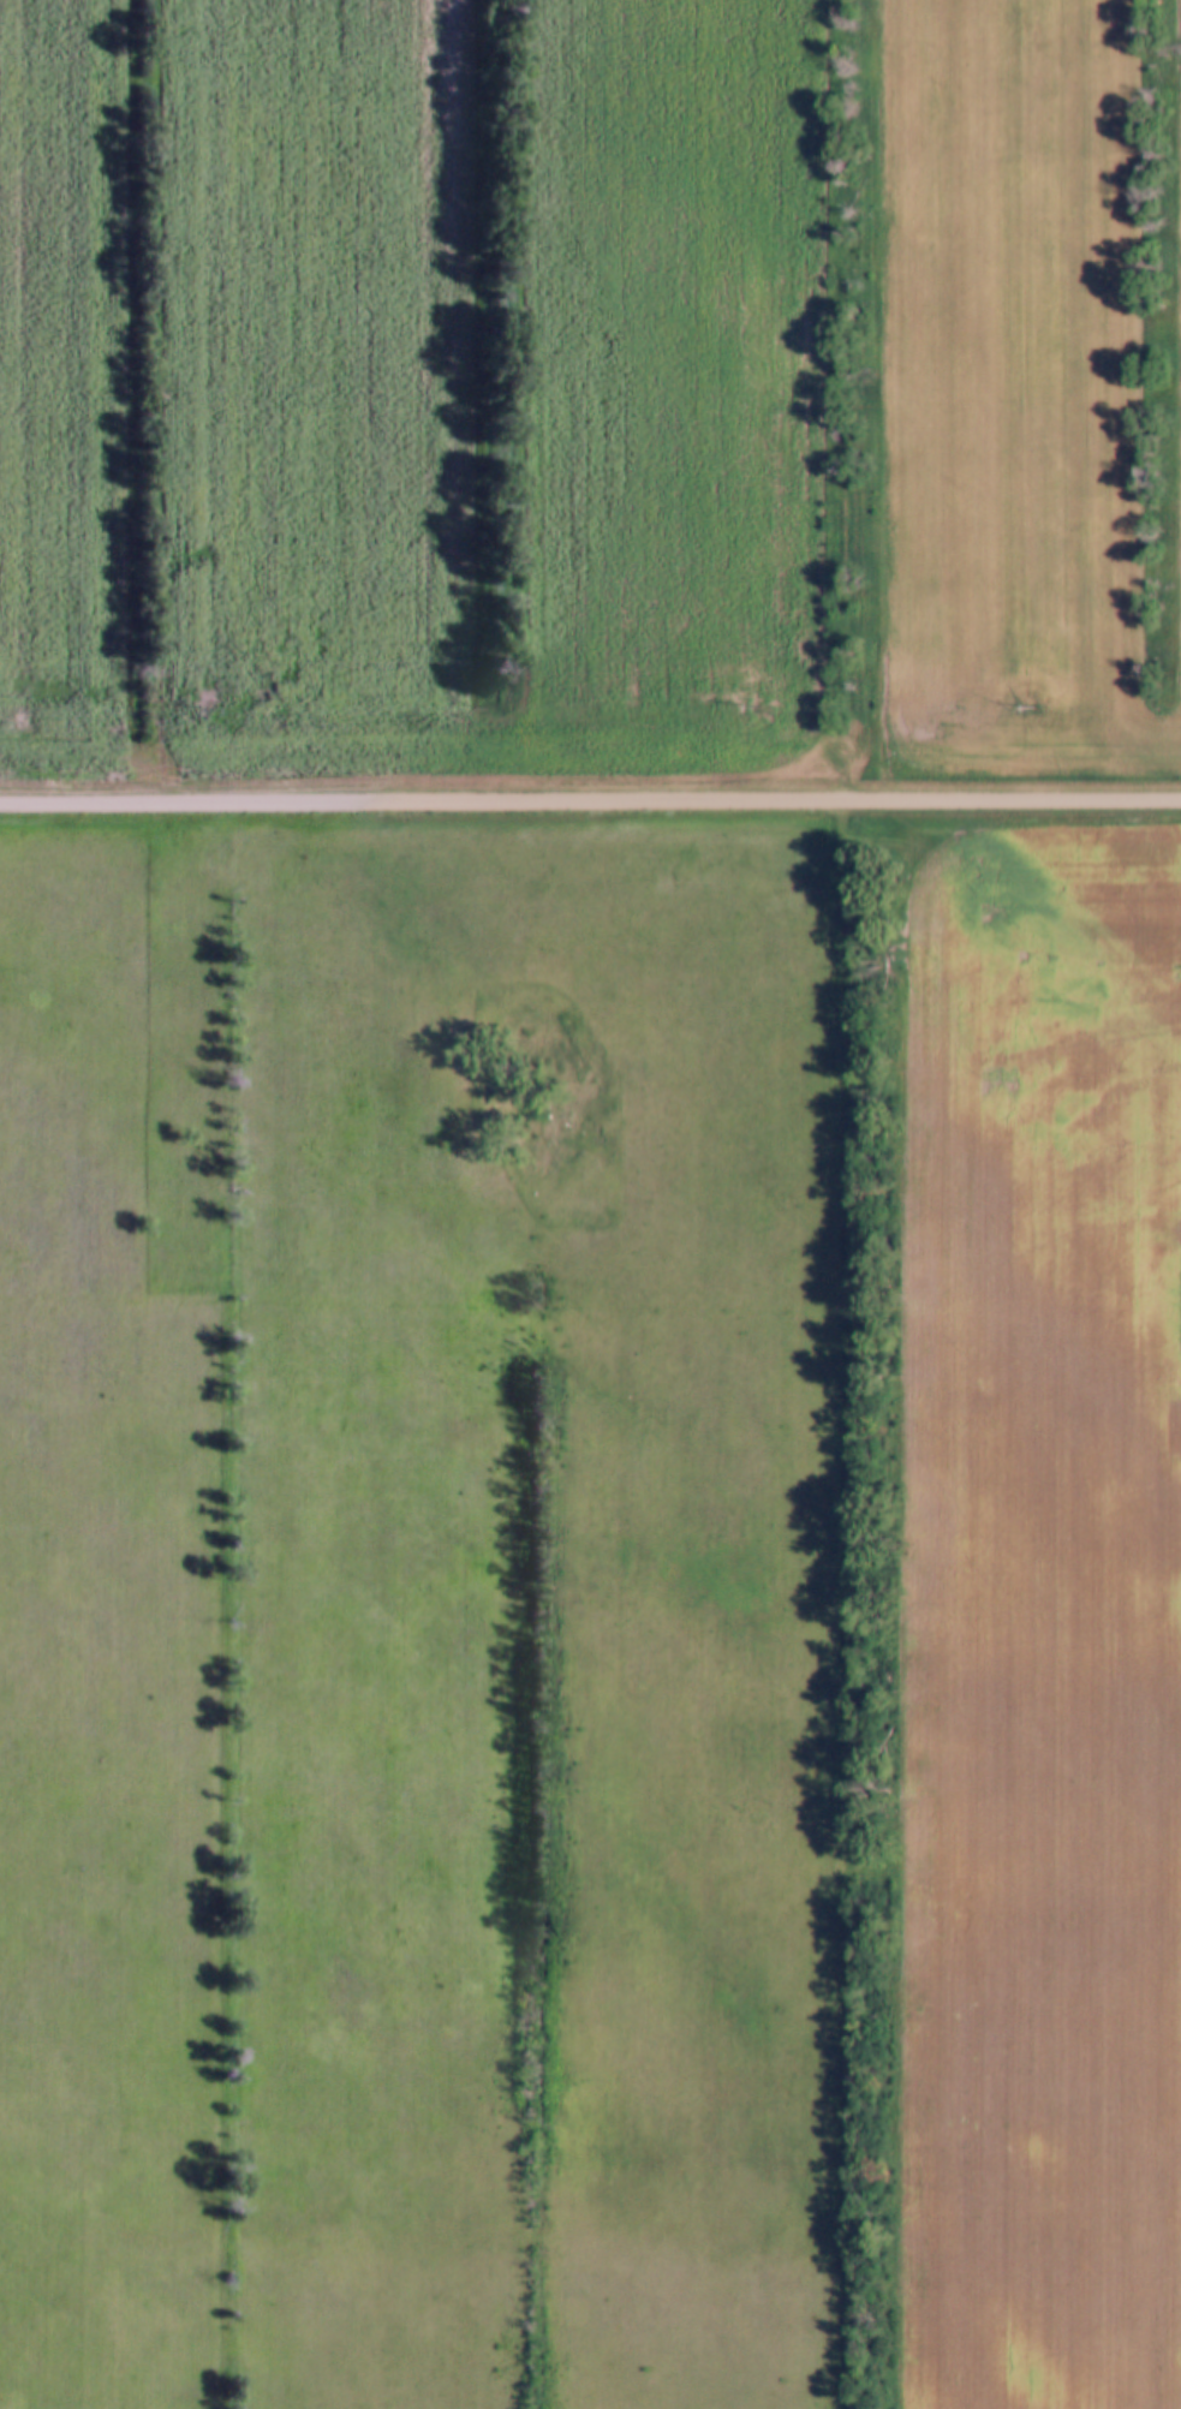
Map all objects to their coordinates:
road: (590, 803)

